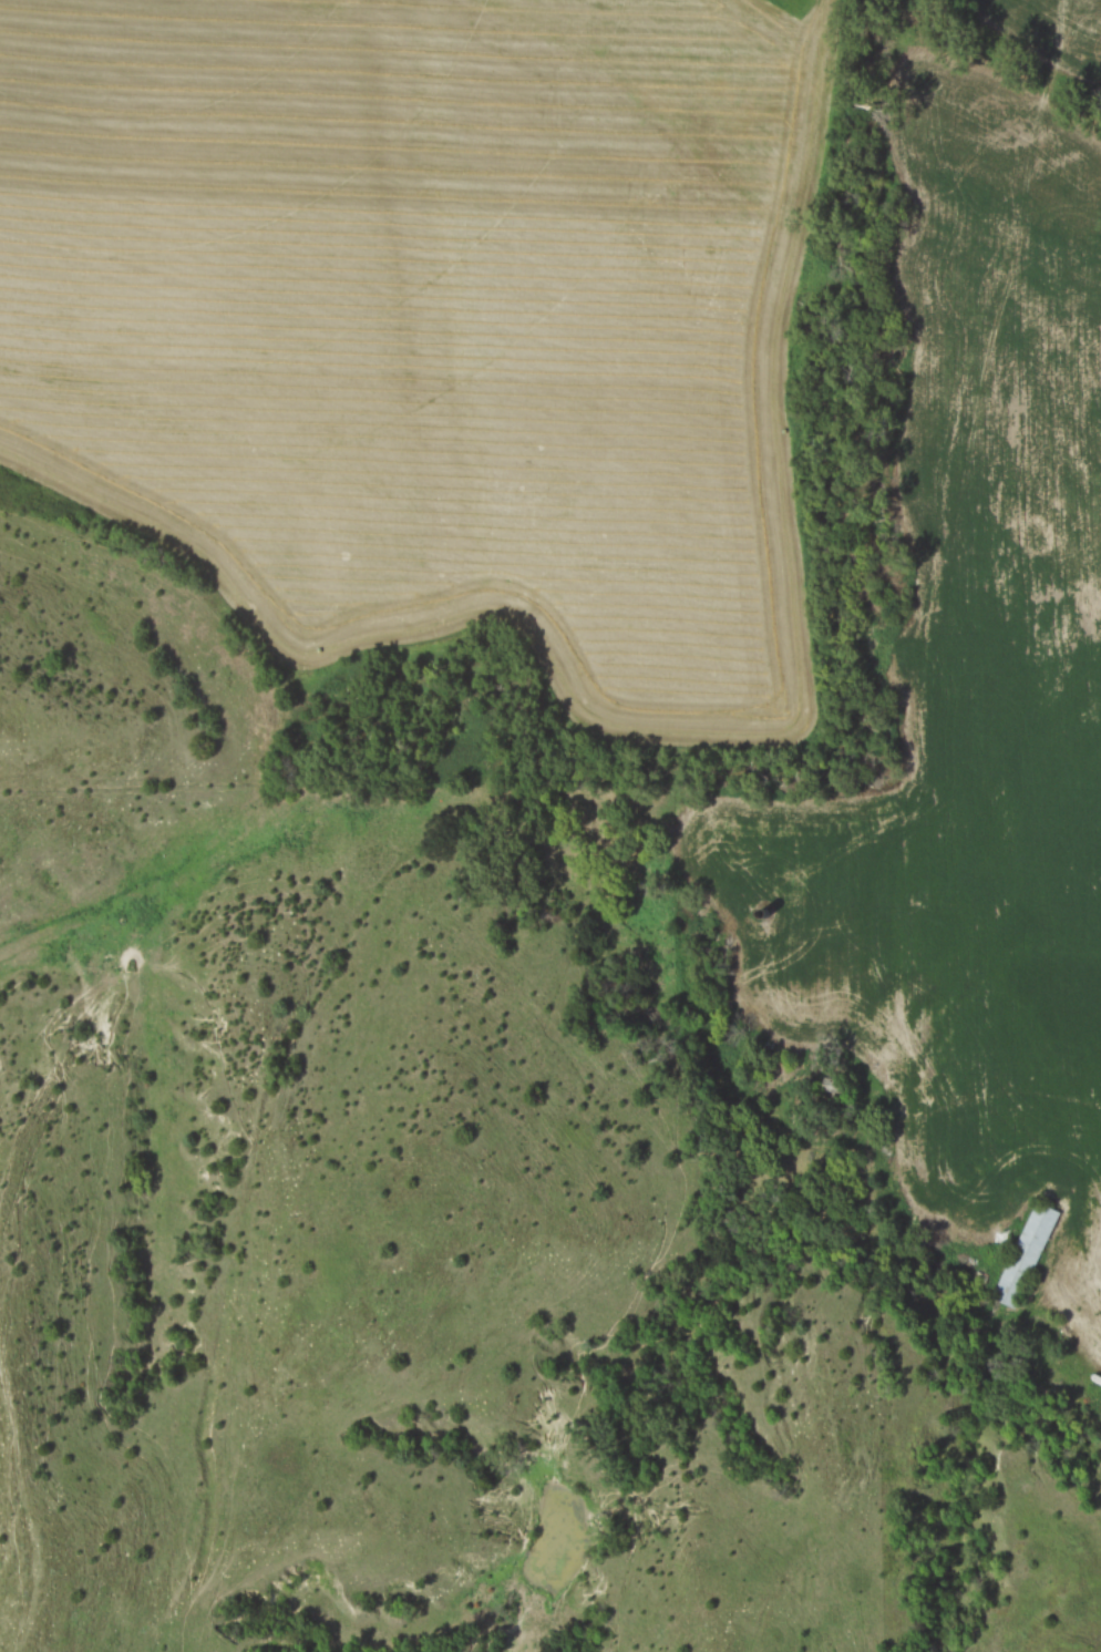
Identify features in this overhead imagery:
building: (1021, 1256)

